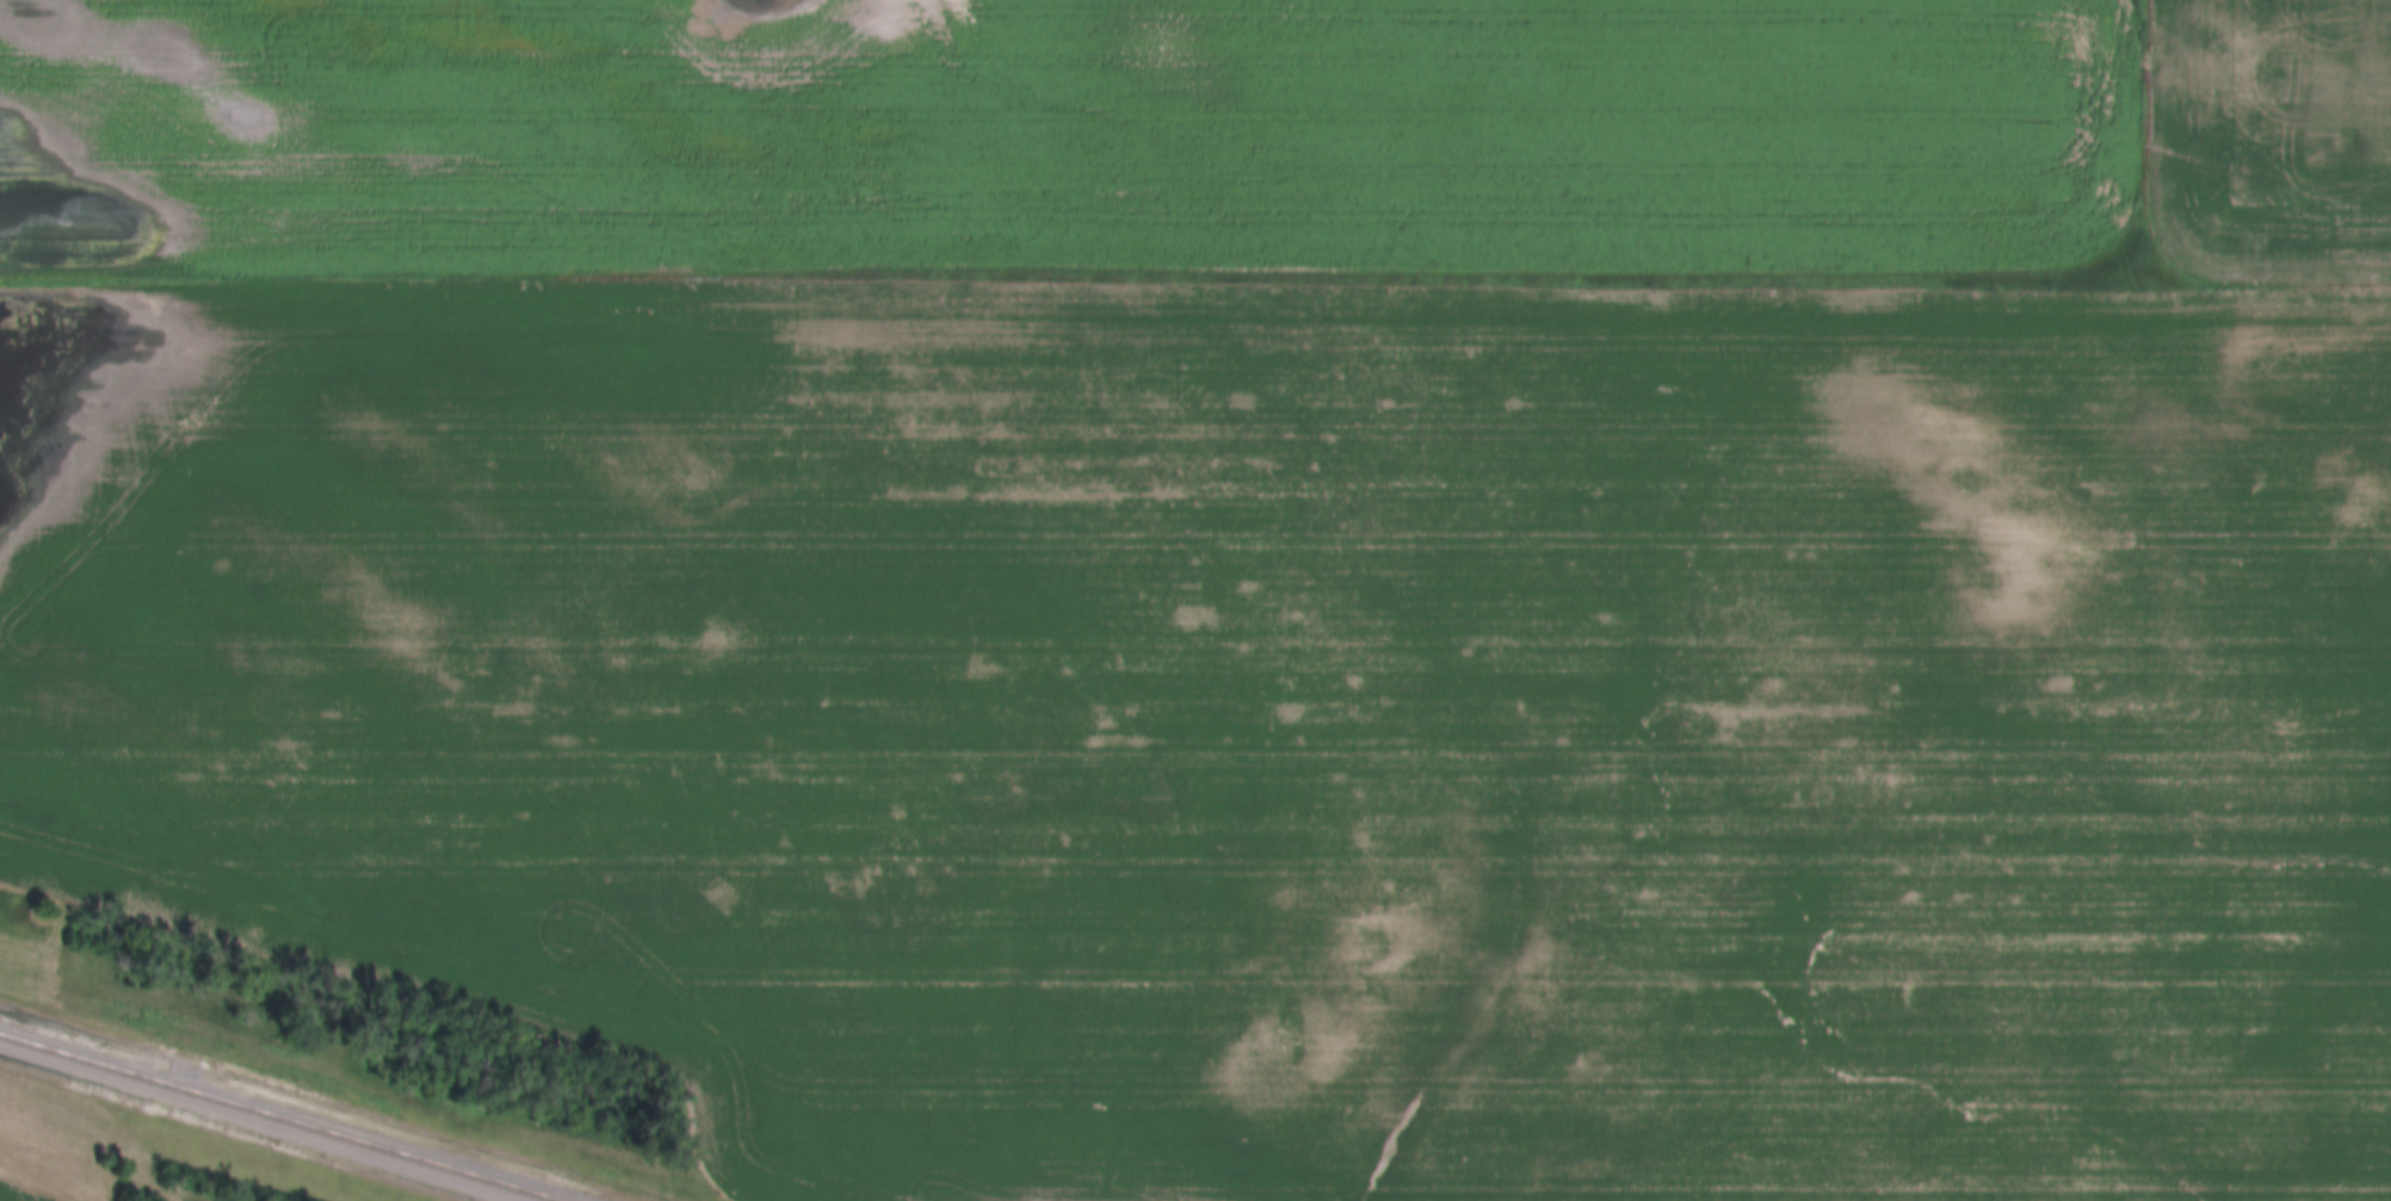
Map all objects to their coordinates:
railway: (277, 1118)

